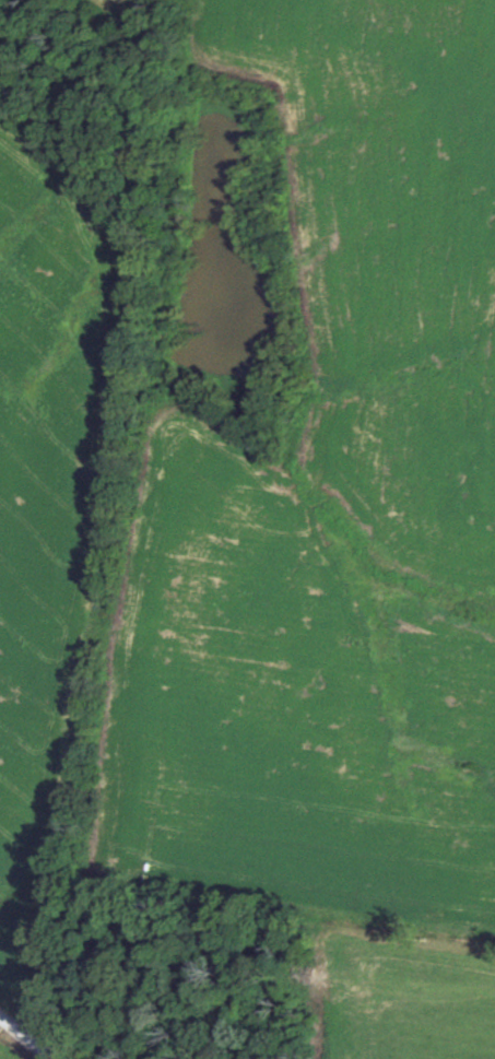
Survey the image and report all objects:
road: (10, 1048)

